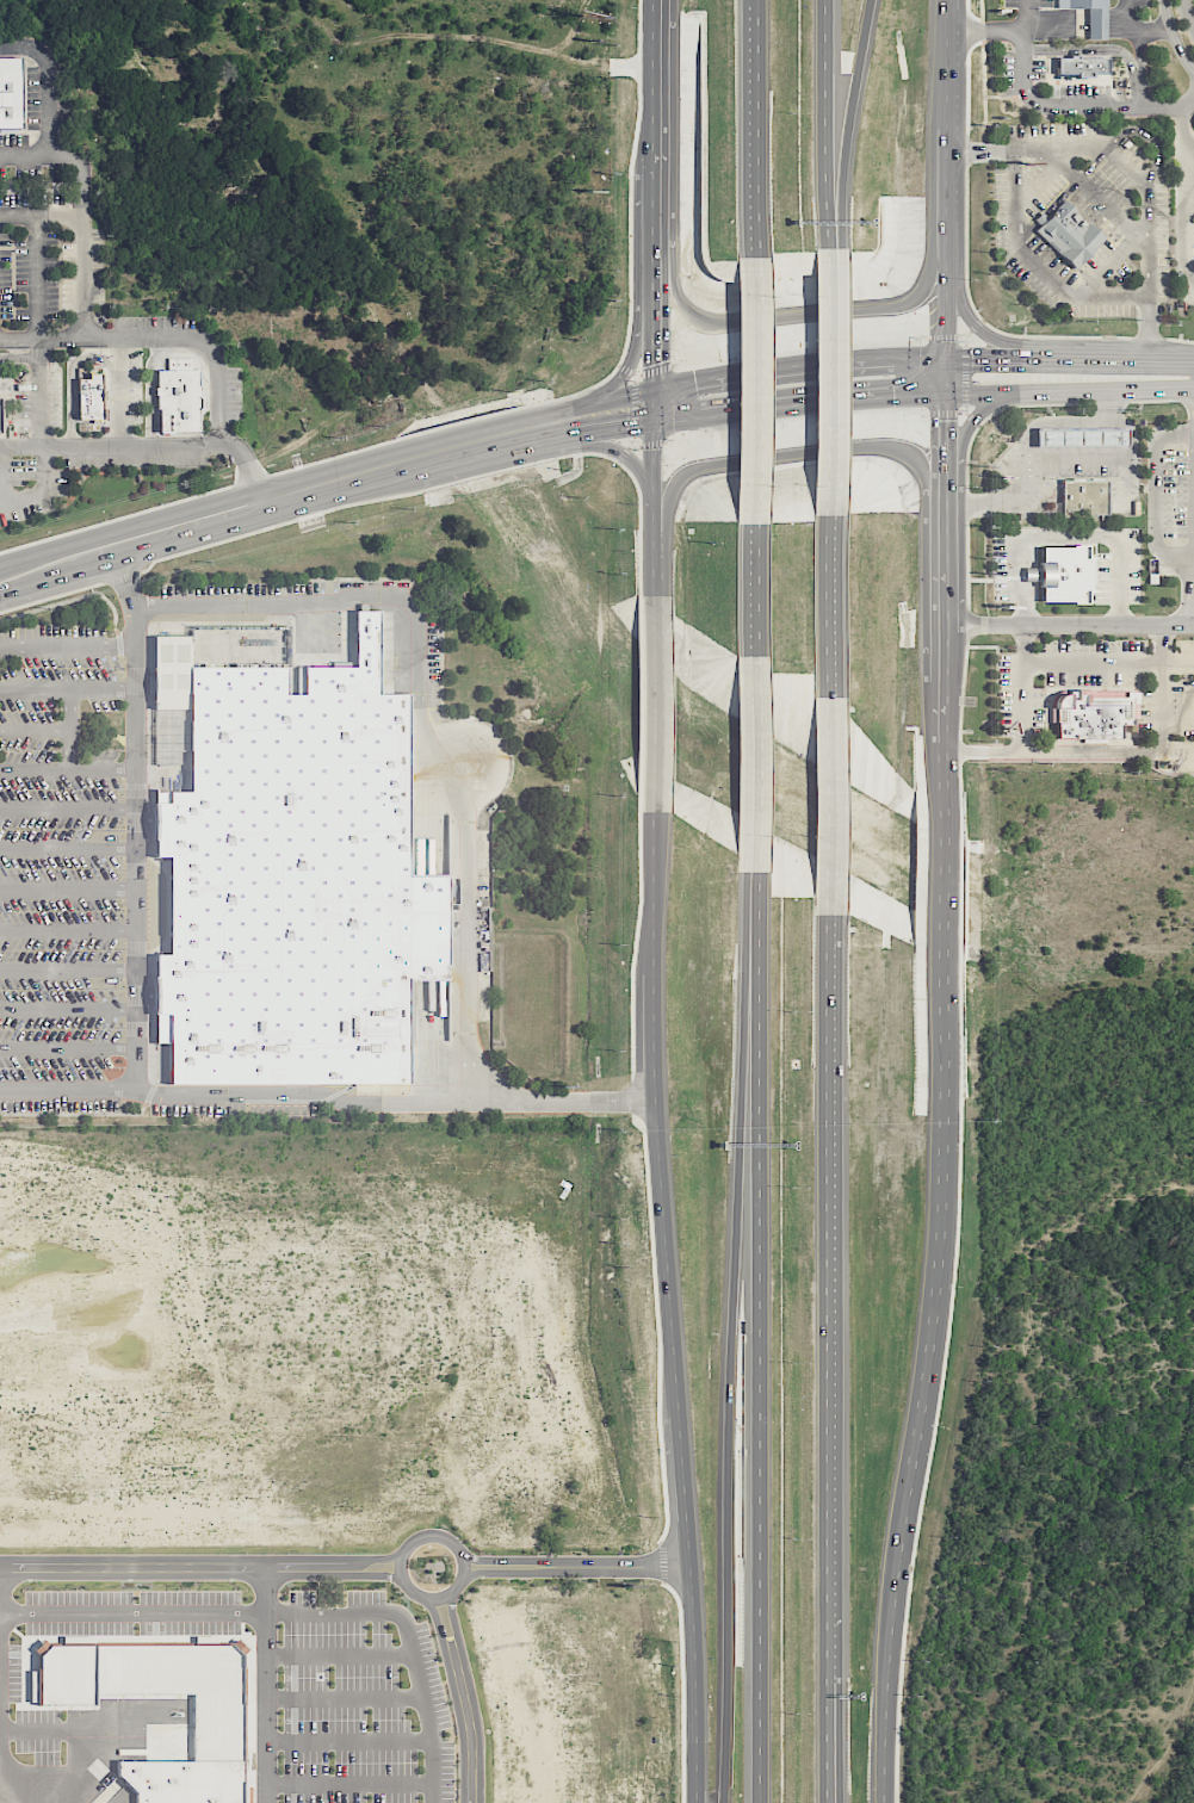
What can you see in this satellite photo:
parking lot: (1028, 4)
parking lot: (1143, 4)
road: (1126, 13)
road: (1026, 14)
road: (1188, 14)
building: (1091, 16)
road: (1056, 26)
road: (1096, 26)
road: (1116, 26)
road: (983, 30)
road: (1147, 31)
road: (1174, 36)
road: (1090, 49)
road: (982, 62)
road: (942, 64)
building: (1083, 66)
parking lot: (1039, 69)
road: (1139, 69)
parking lot: (1008, 73)
road: (655, 85)
building: (11, 91)
parking lot: (1078, 91)
road: (1006, 95)
parking lot: (33, 97)
road: (50, 105)
road: (1050, 105)
road: (1168, 106)
parking lot: (66, 109)
road: (825, 122)
road: (850, 122)
road: (753, 129)
parking lot: (14, 140)
road: (1054, 147)
road: (977, 150)
road: (1100, 156)
road: (1122, 167)
parking lot: (33, 172)
road: (1188, 181)
road: (944, 193)
road: (1182, 194)
road: (1096, 198)
road: (42, 216)
road: (652, 221)
road: (83, 233)
building: (1070, 234)
road: (1149, 243)
road: (827, 246)
parking lot: (49, 255)
road: (1111, 256)
road: (1038, 262)
road: (38, 277)
road: (651, 292)
road: (805, 316)
road: (1149, 321)
parking lot: (159, 322)
road: (945, 324)
road: (976, 326)
road: (1000, 332)
road: (941, 337)
road: (964, 337)
road: (965, 341)
road: (1038, 343)
road: (799, 349)
road: (652, 351)
traffic signals: (972, 355)
road: (1062, 355)
road: (1186, 358)
road: (629, 363)
road: (797, 364)
road: (72, 365)
traffic signals: (652, 365)
road: (123, 367)
road: (625, 368)
road: (656, 371)
road: (635, 374)
road: (965, 374)
road: (637, 377)
road: (827, 382)
building: (829, 382)
traffic signals: (681, 383)
parking lot: (137, 385)
road: (1069, 390)
road: (38, 391)
road: (751, 391)
parking lot: (235, 394)
building: (178, 395)
traffic signals: (916, 395)
building: (91, 396)
road: (221, 396)
parking lot: (56, 399)
road: (797, 403)
road: (651, 407)
road: (964, 408)
parking lot: (25, 409)
road: (633, 409)
road: (961, 411)
road: (942, 414)
road: (489, 415)
road: (794, 415)
road: (972, 420)
road: (120, 421)
road: (1052, 421)
traffic signals: (945, 422)
road: (966, 426)
traffic signals: (627, 427)
road: (610, 429)
building: (1082, 438)
gas station: (1082, 438)
road: (633, 440)
road: (652, 442)
road: (633, 444)
road: (617, 450)
road: (494, 451)
road: (624, 454)
road: (797, 456)
road: (1057, 459)
parking lot: (137, 460)
road: (354, 463)
road: (252, 471)
road: (408, 475)
road: (444, 483)
road: (966, 484)
parking lot: (29, 487)
road: (366, 487)
road: (1155, 495)
road: (20, 496)
building: (1084, 496)
road: (302, 504)
road: (651, 508)
road: (192, 535)
road: (30, 556)
road: (95, 564)
road: (1023, 571)
building: (1065, 574)
road: (123, 576)
road: (37, 581)
road: (751, 588)
road: (2, 590)
road: (51, 596)
road: (945, 611)
road: (827, 614)
road: (1193, 614)
road: (984, 624)
road: (67, 644)
road: (1091, 662)
road: (1176, 663)
road: (67, 686)
road: (639, 702)
road: (654, 704)
building: (1094, 713)
road: (417, 717)
road: (70, 727)
road: (1026, 729)
road: (35, 730)
road: (1155, 752)
road: (1175, 752)
road: (751, 766)
road: (68, 770)
road: (68, 806)
road: (828, 808)
road: (136, 820)
road: (68, 845)
parking lot: (62, 869)
road: (945, 882)
building: (292, 884)
road: (68, 887)
road: (68, 927)
road: (753, 933)
road: (68, 969)
road: (68, 1006)
road: (68, 1047)
road: (67, 1088)
road: (301, 1095)
road: (561, 1102)
road: (477, 1157)
road: (70, 1158)
road: (329, 1158)
road: (481, 1165)
road: (503, 1165)
road: (533, 1165)
road: (645, 1173)
road: (452, 1191)
road: (830, 1192)
road: (482, 1195)
road: (503, 1195)
road: (534, 1195)
road: (282, 1206)
road: (482, 1221)
road: (505, 1221)
road: (534, 1221)
road: (493, 1226)
road: (280, 1249)
road: (508, 1291)
road: (282, 1294)
road: (669, 1307)
road: (282, 1336)
road: (924, 1370)
road: (438, 1387)
road: (726, 1393)
road: (756, 1394)
road: (266, 1406)
road: (132, 1439)
road: (344, 1439)
road: (33, 1483)
road: (79, 1483)
road: (129, 1483)
road: (174, 1483)
road: (218, 1485)
road: (301, 1485)
road: (346, 1486)
road: (132, 1529)
road: (370, 1530)
road: (433, 1532)
road: (661, 1562)
road: (200, 1563)
road: (576, 1563)
road: (297, 1611)
road: (827, 1642)
road: (840, 1642)
road: (339, 1653)
building: (68, 1672)
road: (265, 1683)
building: (182, 1685)
road: (681, 1690)
road: (0, 1696)
road: (344, 1696)
road: (464, 1698)
road: (82, 1729)
road: (349, 1739)
road: (92, 1779)
building: (184, 1779)
road: (351, 1782)
road: (44, 1793)

